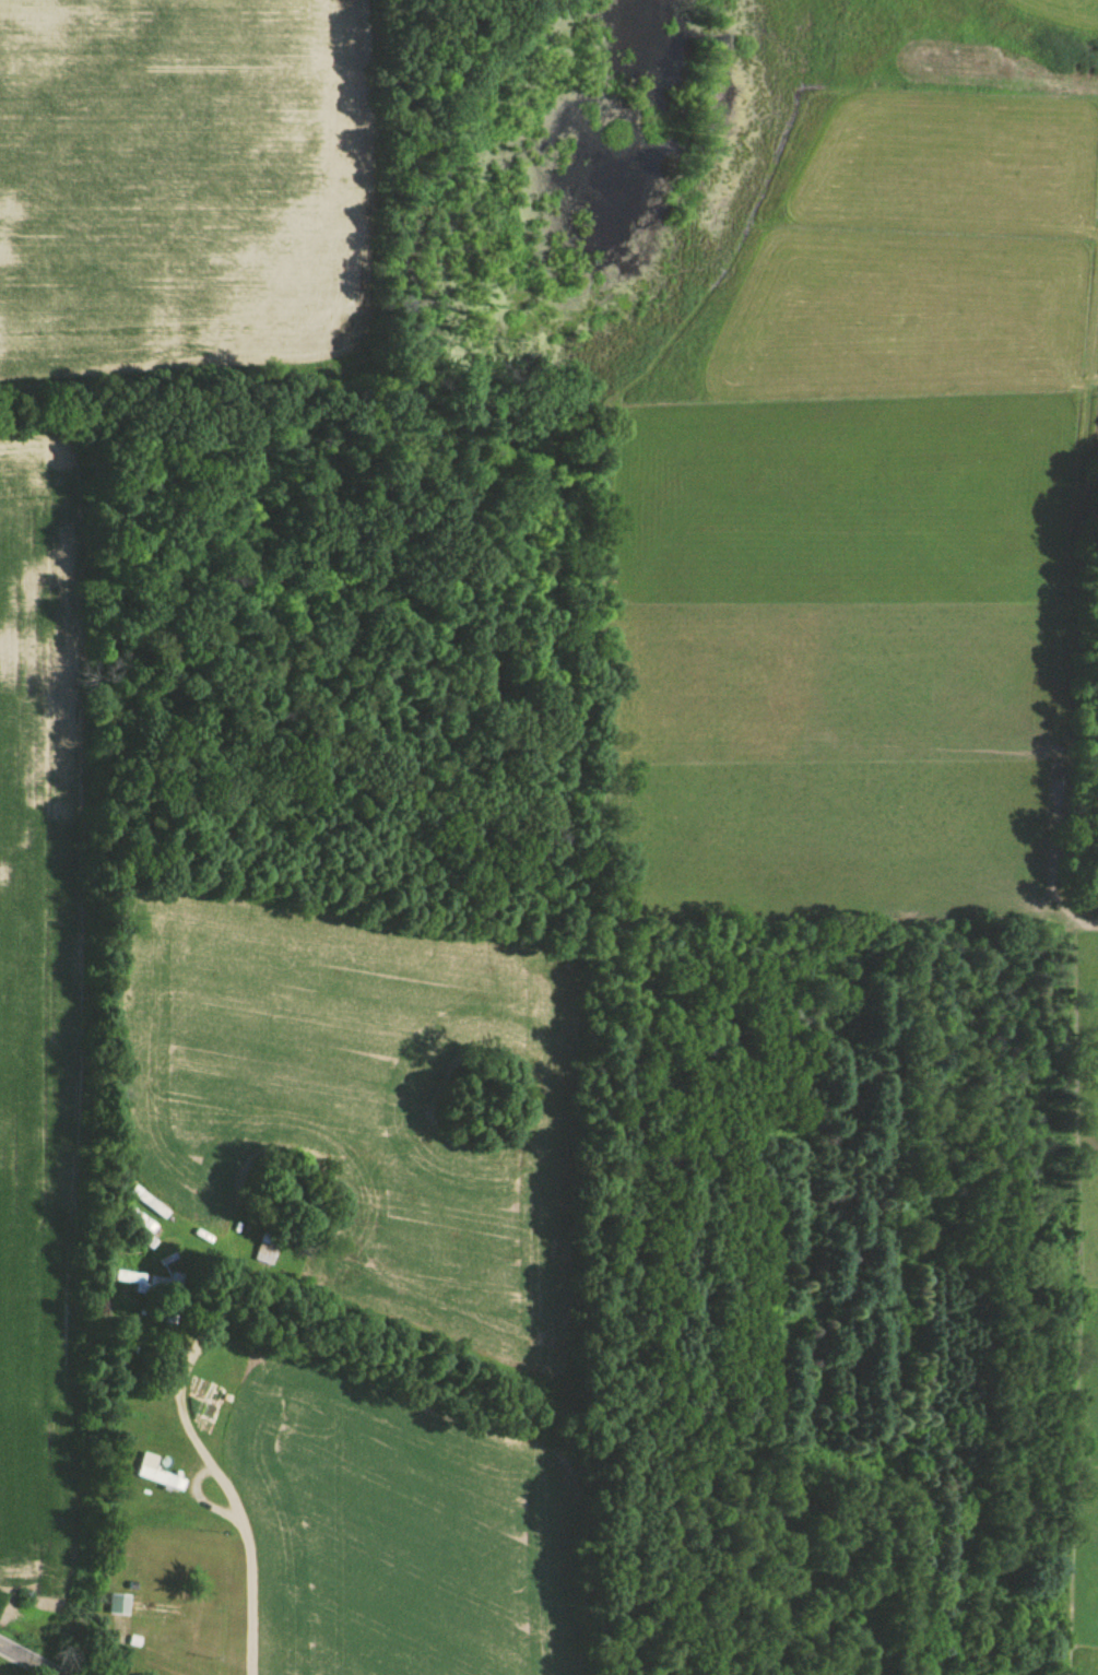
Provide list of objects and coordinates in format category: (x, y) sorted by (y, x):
building: (147, 1205)
building: (265, 1251)
road: (227, 1271)
building: (156, 1476)
building: (142, 1608)
road: (28, 1660)

